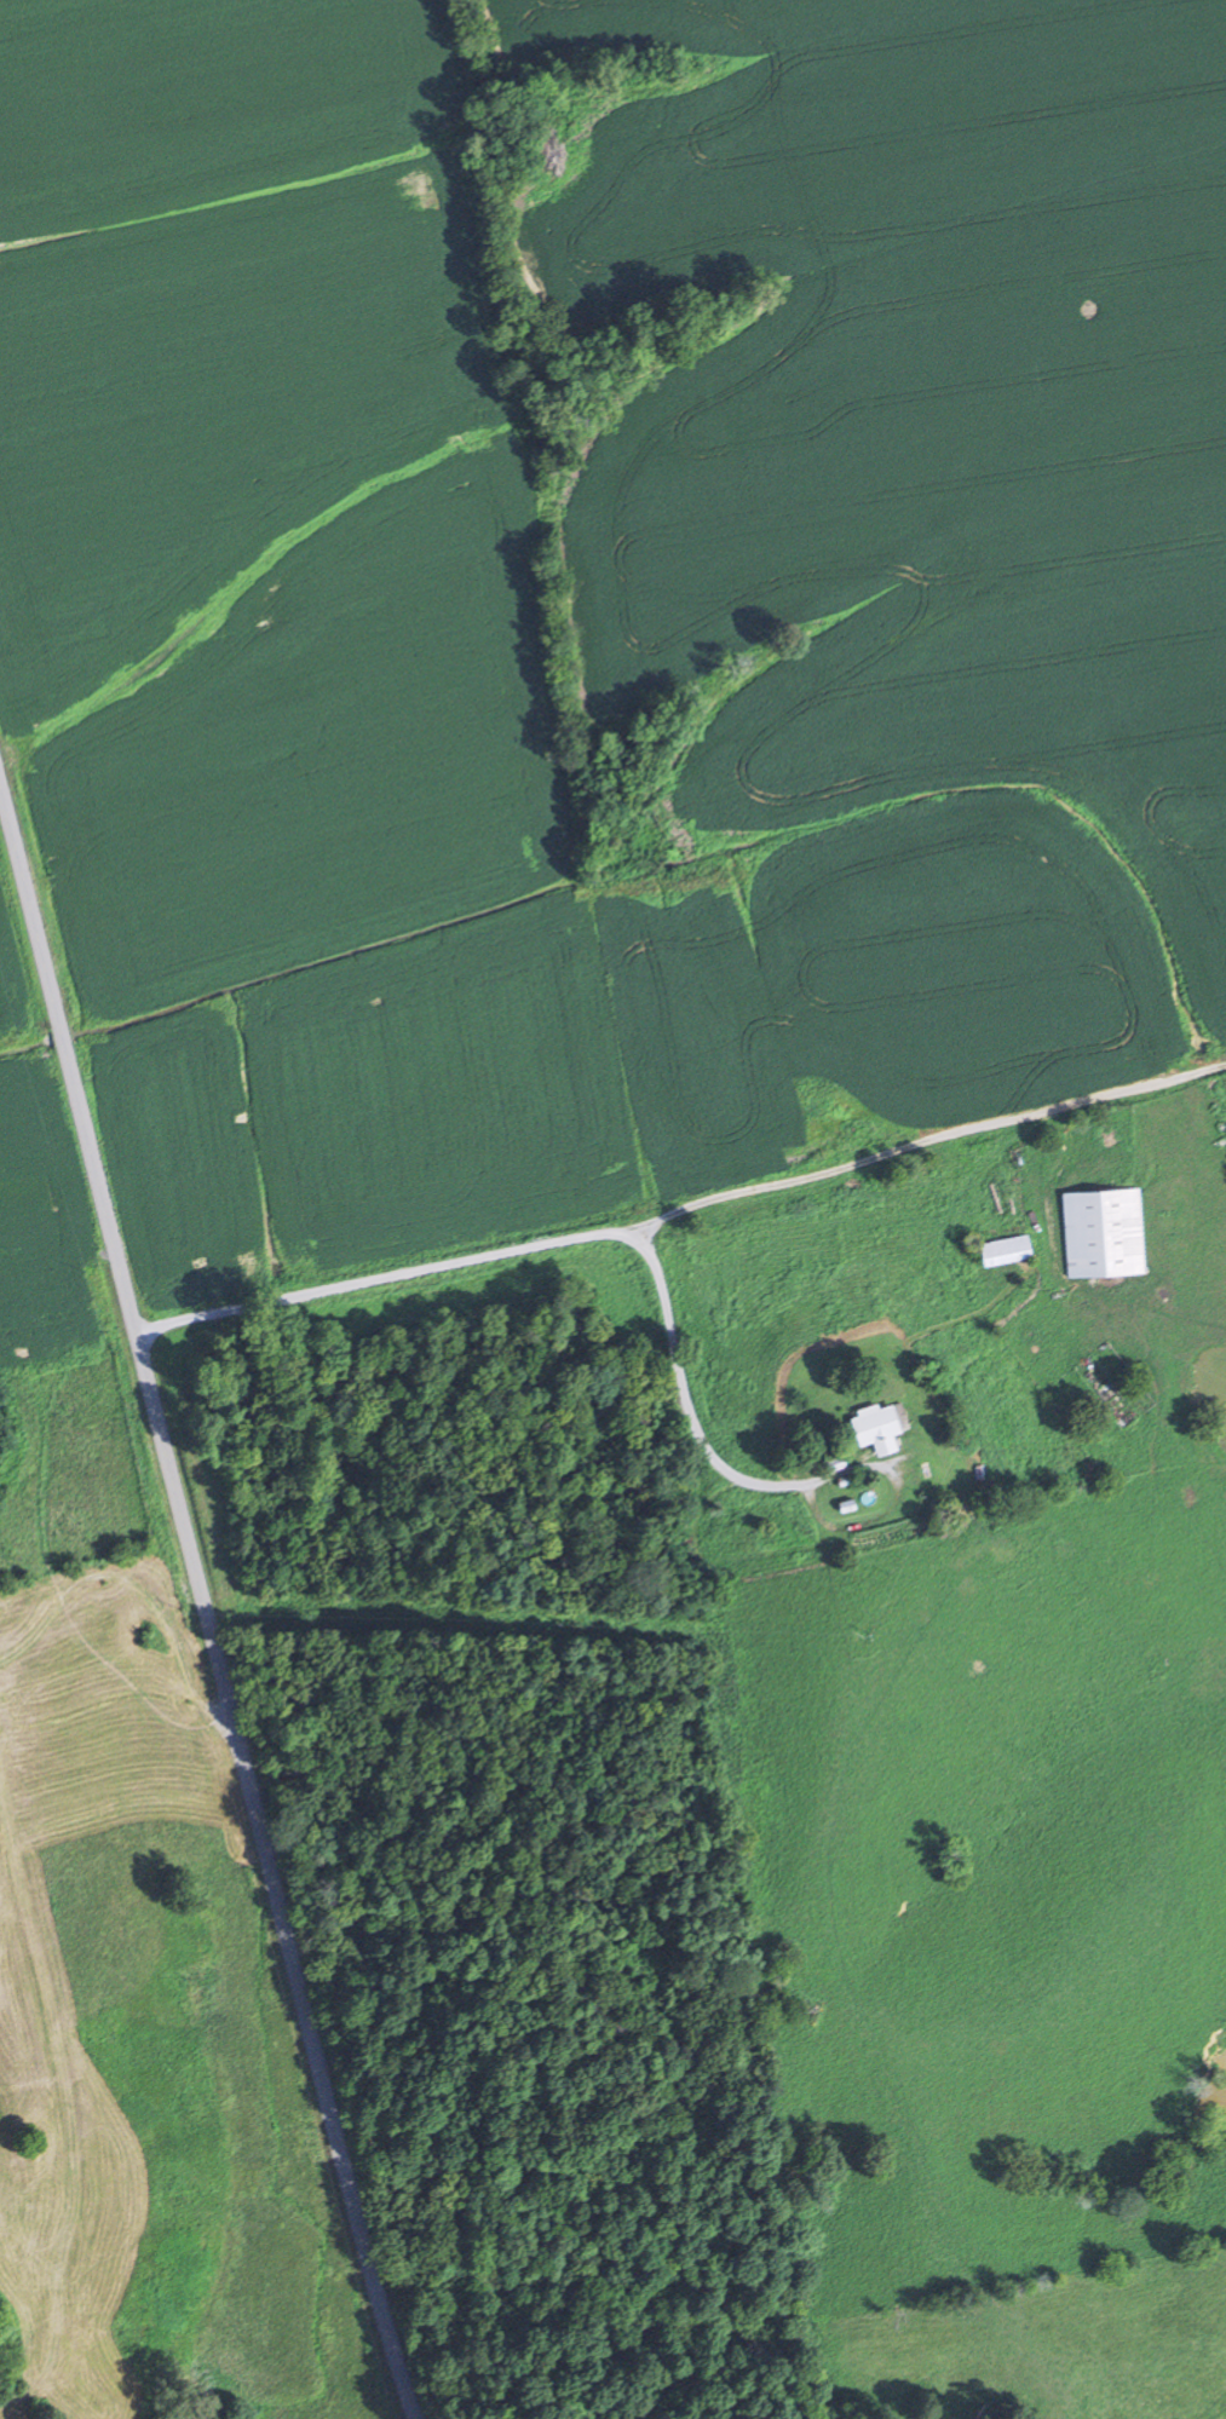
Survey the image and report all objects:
road: (407, 1272)
road: (697, 1422)
road: (202, 1603)
road: (175, 1645)

